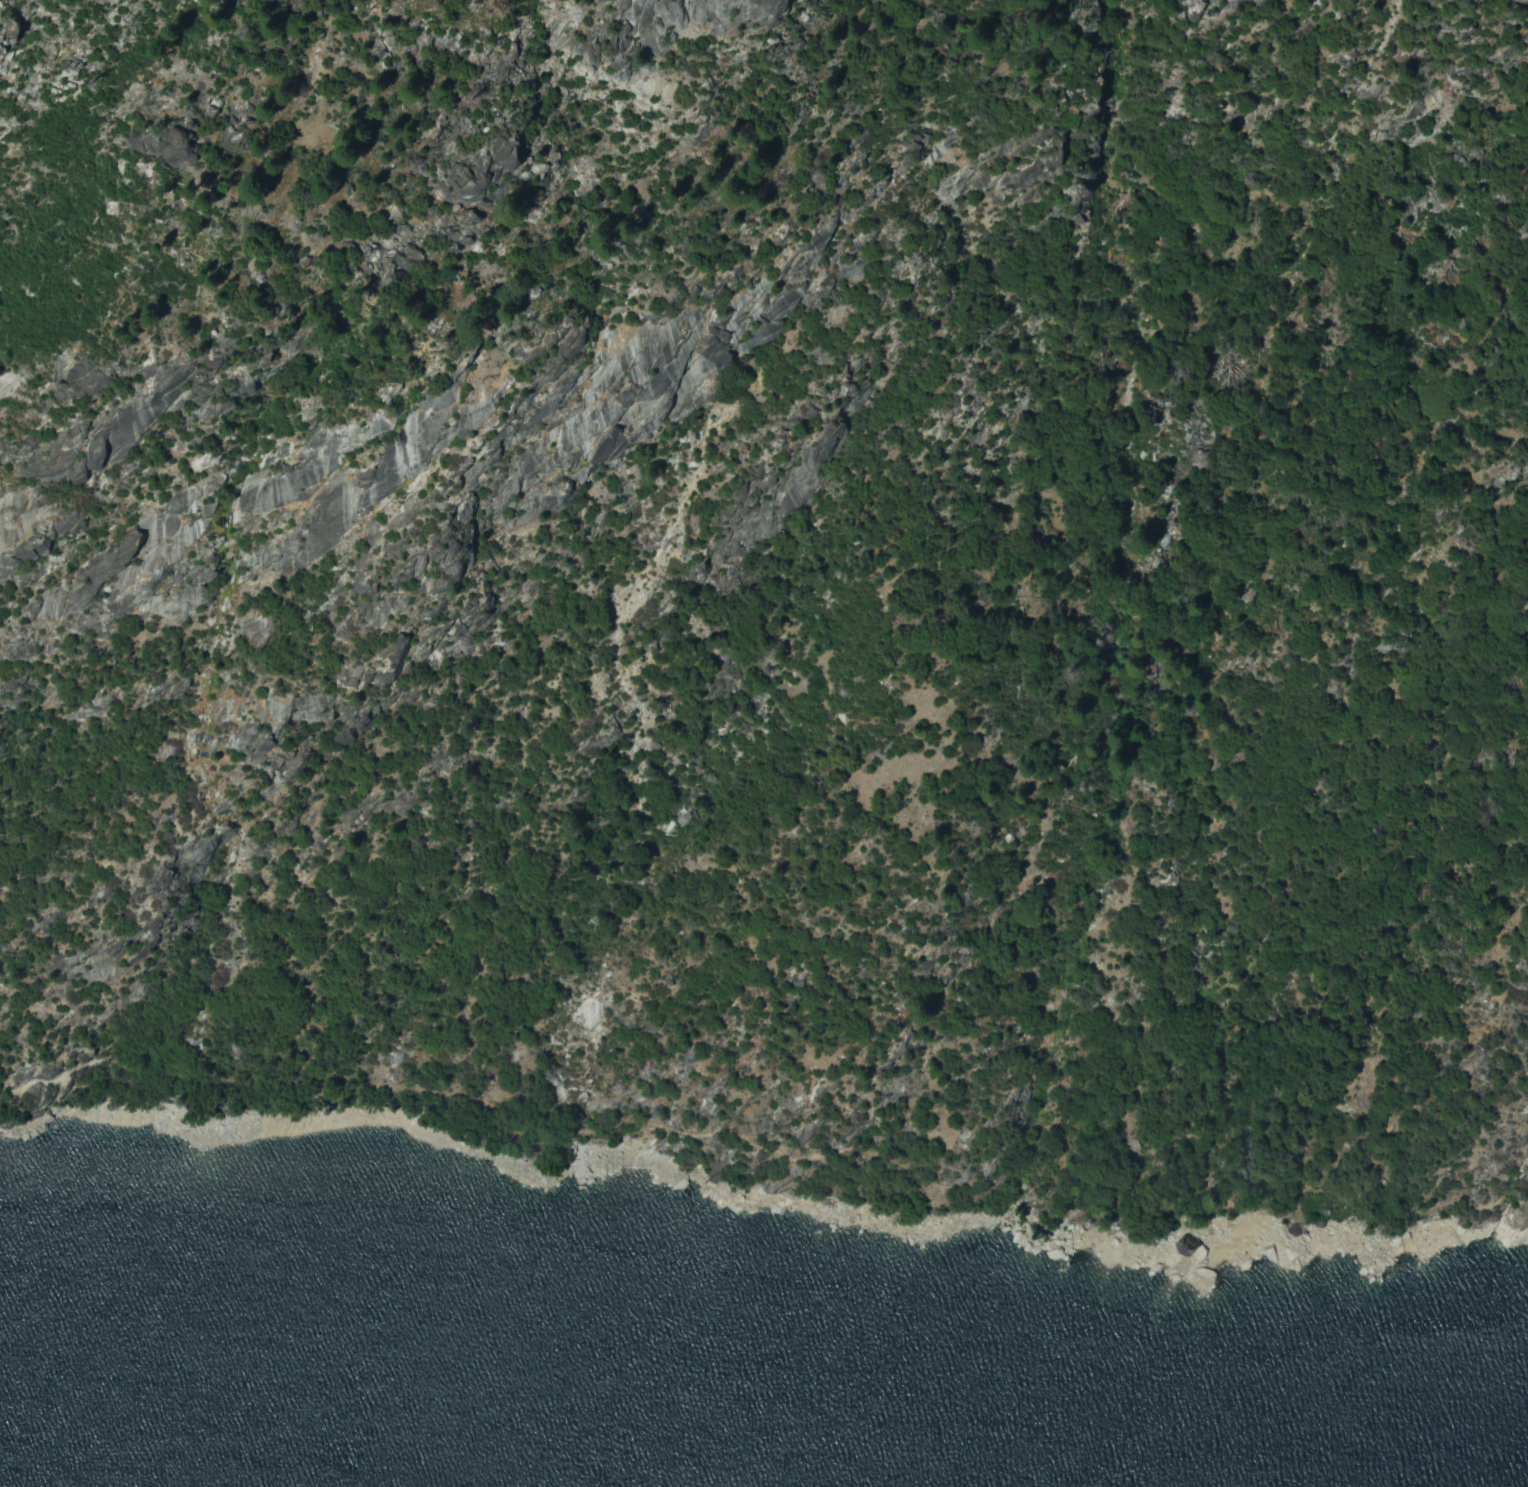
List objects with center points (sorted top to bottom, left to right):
road: (761, 1154)

